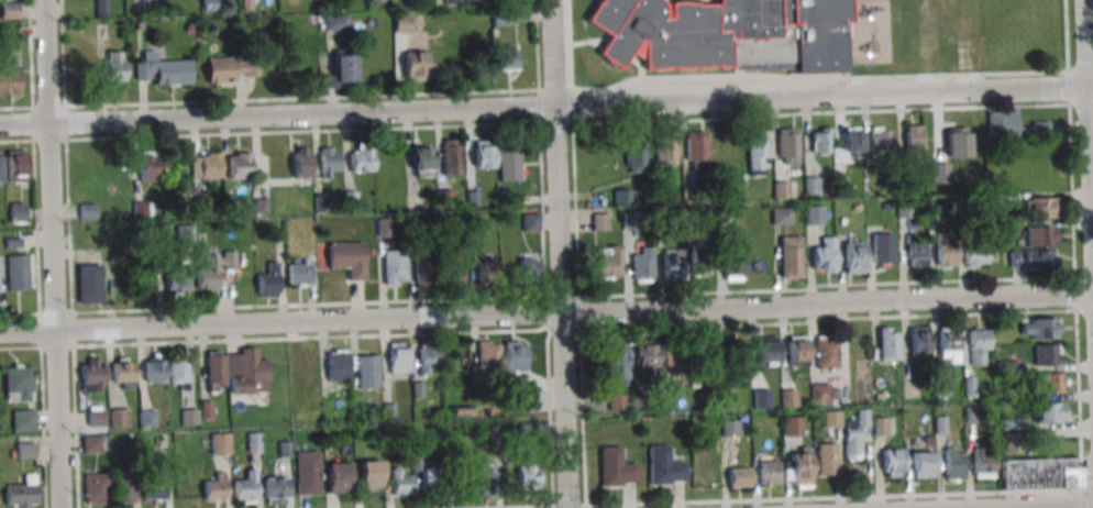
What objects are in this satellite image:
building: (475, 0)
road: (665, 0)
building: (144, 5)
building: (9, 10)
road: (850, 18)
building: (335, 22)
building: (725, 33)
road: (587, 41)
road: (595, 43)
road: (1067, 43)
road: (570, 52)
building: (507, 59)
road: (1091, 59)
road: (640, 65)
building: (416, 66)
building: (114, 67)
building: (230, 68)
building: (343, 70)
building: (161, 71)
road: (739, 74)
building: (9, 79)
road: (821, 79)
road: (546, 106)
building: (1003, 123)
building: (1040, 126)
building: (880, 139)
building: (853, 140)
building: (820, 141)
building: (957, 141)
building: (914, 144)
building: (787, 146)
building: (666, 148)
building: (697, 150)
building: (757, 151)
building: (484, 154)
building: (450, 157)
building: (636, 157)
building: (361, 159)
building: (420, 161)
building: (329, 162)
building: (300, 163)
building: (509, 163)
building: (16, 165)
building: (239, 165)
building: (147, 166)
building: (207, 166)
building: (938, 173)
building: (626, 197)
building: (444, 199)
building: (1040, 207)
building: (16, 211)
building: (87, 211)
building: (782, 216)
building: (815, 216)
building: (530, 221)
building: (600, 221)
building: (1040, 236)
building: (882, 249)
building: (946, 250)
road: (53, 253)
road: (560, 253)
building: (916, 253)
building: (791, 256)
building: (825, 256)
building: (854, 256)
building: (975, 256)
building: (346, 258)
building: (1023, 259)
building: (608, 262)
building: (700, 262)
building: (672, 263)
building: (642, 265)
building: (451, 266)
building: (529, 266)
building: (733, 266)
building: (395, 267)
building: (422, 268)
building: (214, 269)
building: (16, 272)
building: (487, 272)
building: (177, 273)
building: (299, 273)
building: (268, 281)
building: (88, 283)
road: (545, 310)
building: (1040, 329)
building: (919, 341)
building: (887, 343)
building: (948, 344)
building: (980, 346)
building: (797, 351)
building: (826, 352)
building: (645, 353)
building: (766, 353)
building: (488, 354)
building: (705, 354)
building: (1047, 354)
building: (737, 355)
building: (428, 356)
building: (515, 356)
building: (671, 356)
building: (399, 357)
building: (308, 362)
building: (338, 364)
building: (615, 365)
building: (152, 371)
building: (236, 371)
building: (178, 372)
building: (367, 372)
building: (123, 373)
building: (92, 374)
building: (18, 383)
building: (1050, 384)
building: (820, 393)
building: (788, 397)
building: (534, 399)
building: (299, 402)
building: (1049, 412)
building: (96, 416)
building: (119, 418)
building: (831, 419)
building: (22, 420)
building: (791, 426)
building: (731, 427)
building: (880, 427)
building: (854, 434)
building: (220, 443)
building: (91, 444)
building: (24, 451)
building: (826, 460)
building: (892, 462)
building: (953, 463)
building: (982, 463)
building: (923, 465)
building: (664, 466)
building: (617, 467)
building: (798, 467)
building: (307, 472)
building: (429, 472)
building: (769, 473)
building: (369, 474)
building: (1040, 474)
building: (338, 477)
building: (739, 477)
building: (528, 478)
building: (487, 479)
building: (401, 483)
building: (124, 486)
building: (96, 487)
building: (154, 487)
building: (216, 488)
building: (277, 490)
building: (245, 492)
building: (21, 494)

